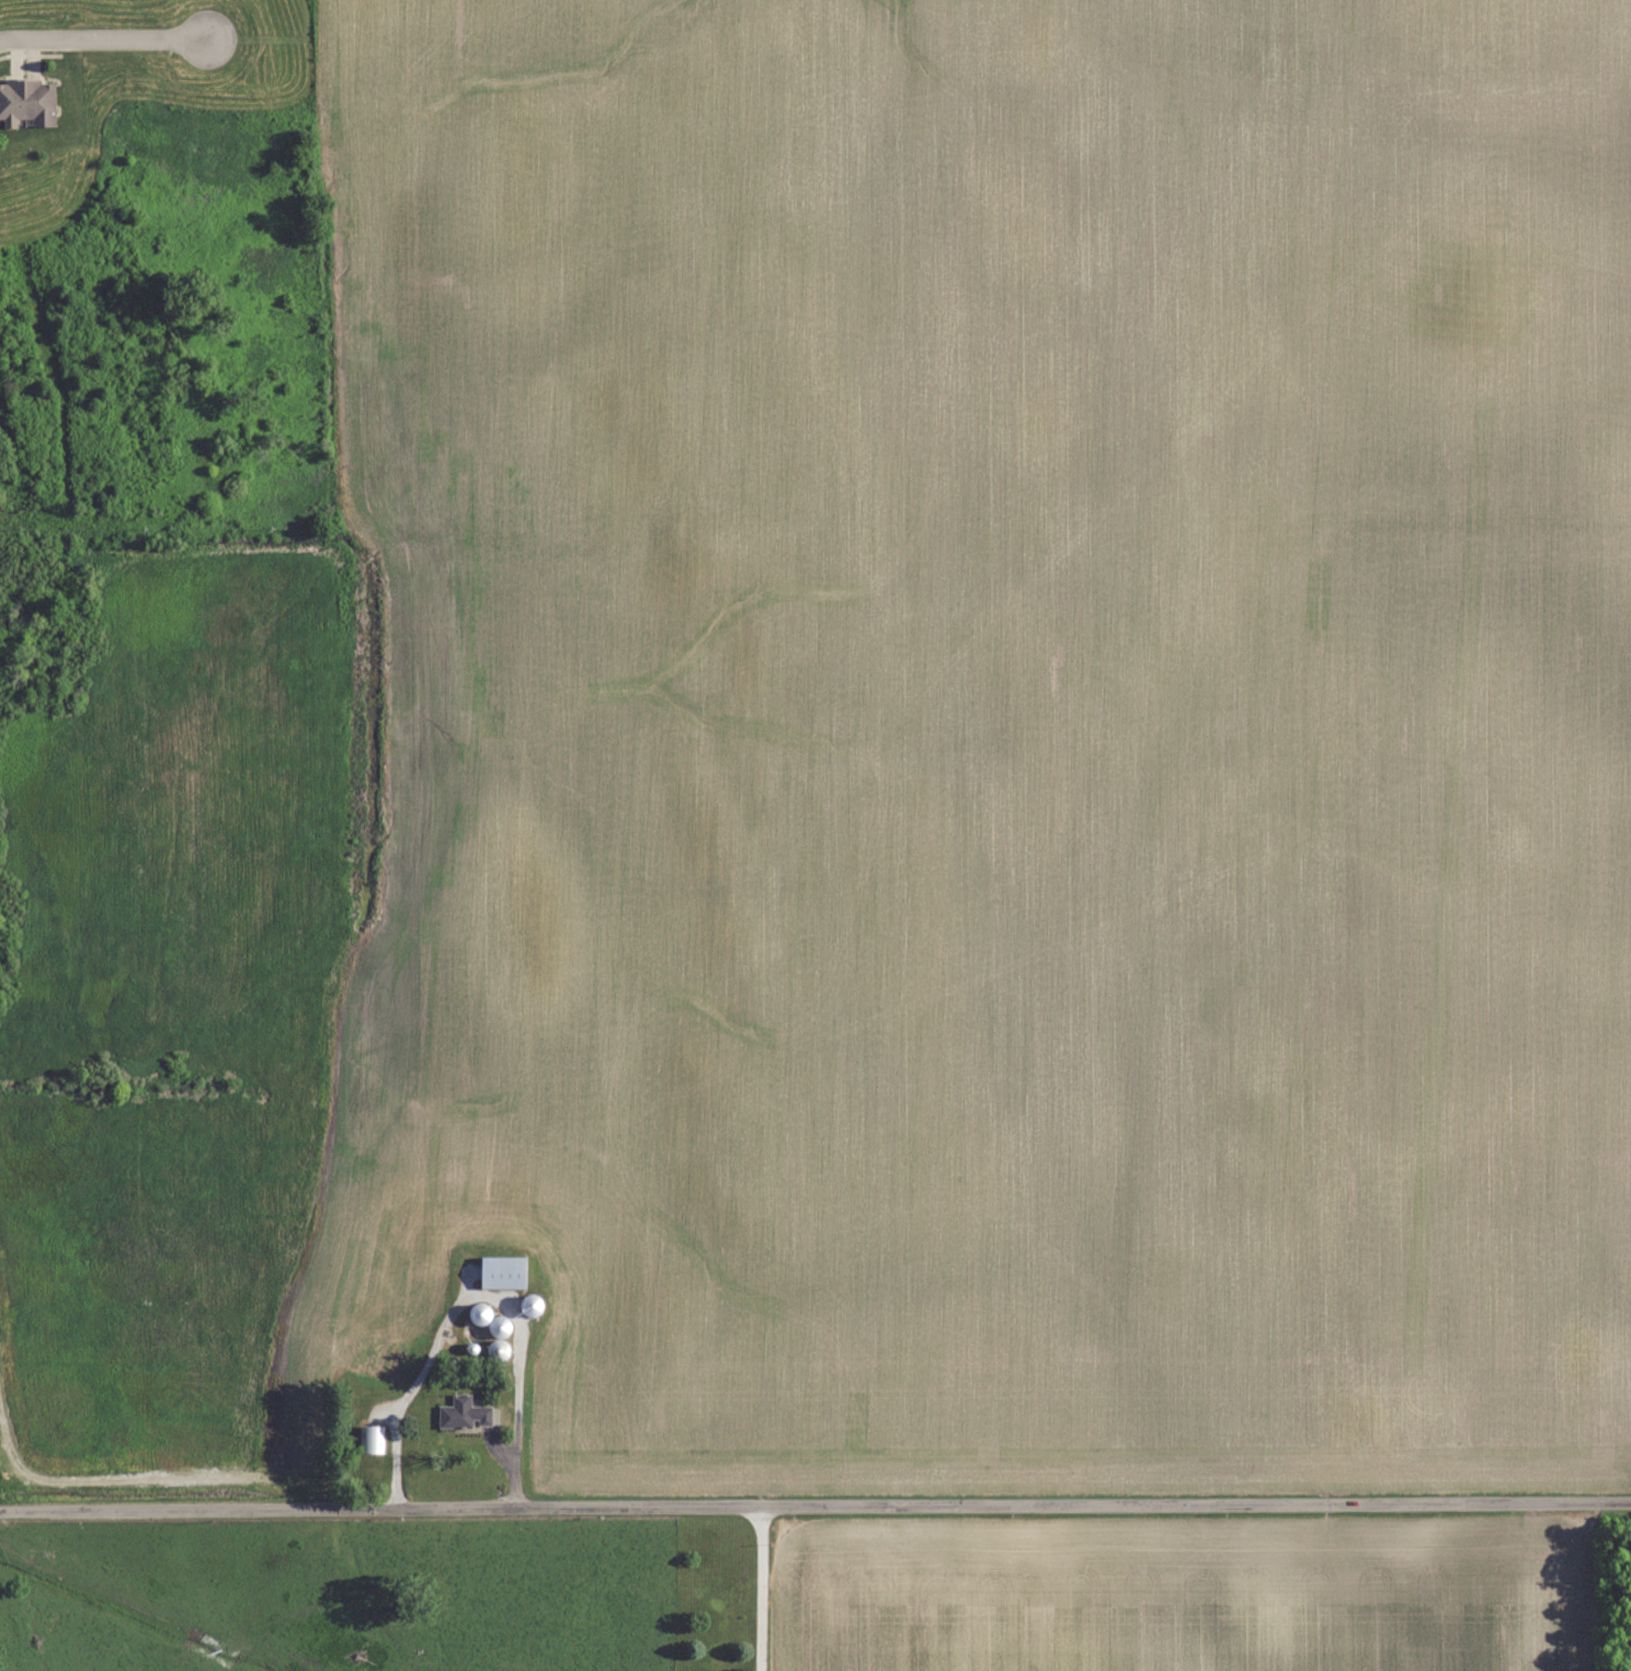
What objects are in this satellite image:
road: (105, 37)
building: (26, 101)
building: (502, 1272)
building: (532, 1307)
building: (479, 1314)
building: (499, 1326)
building: (499, 1349)
building: (464, 1413)
building: (370, 1439)
road: (814, 1504)
road: (760, 1588)

